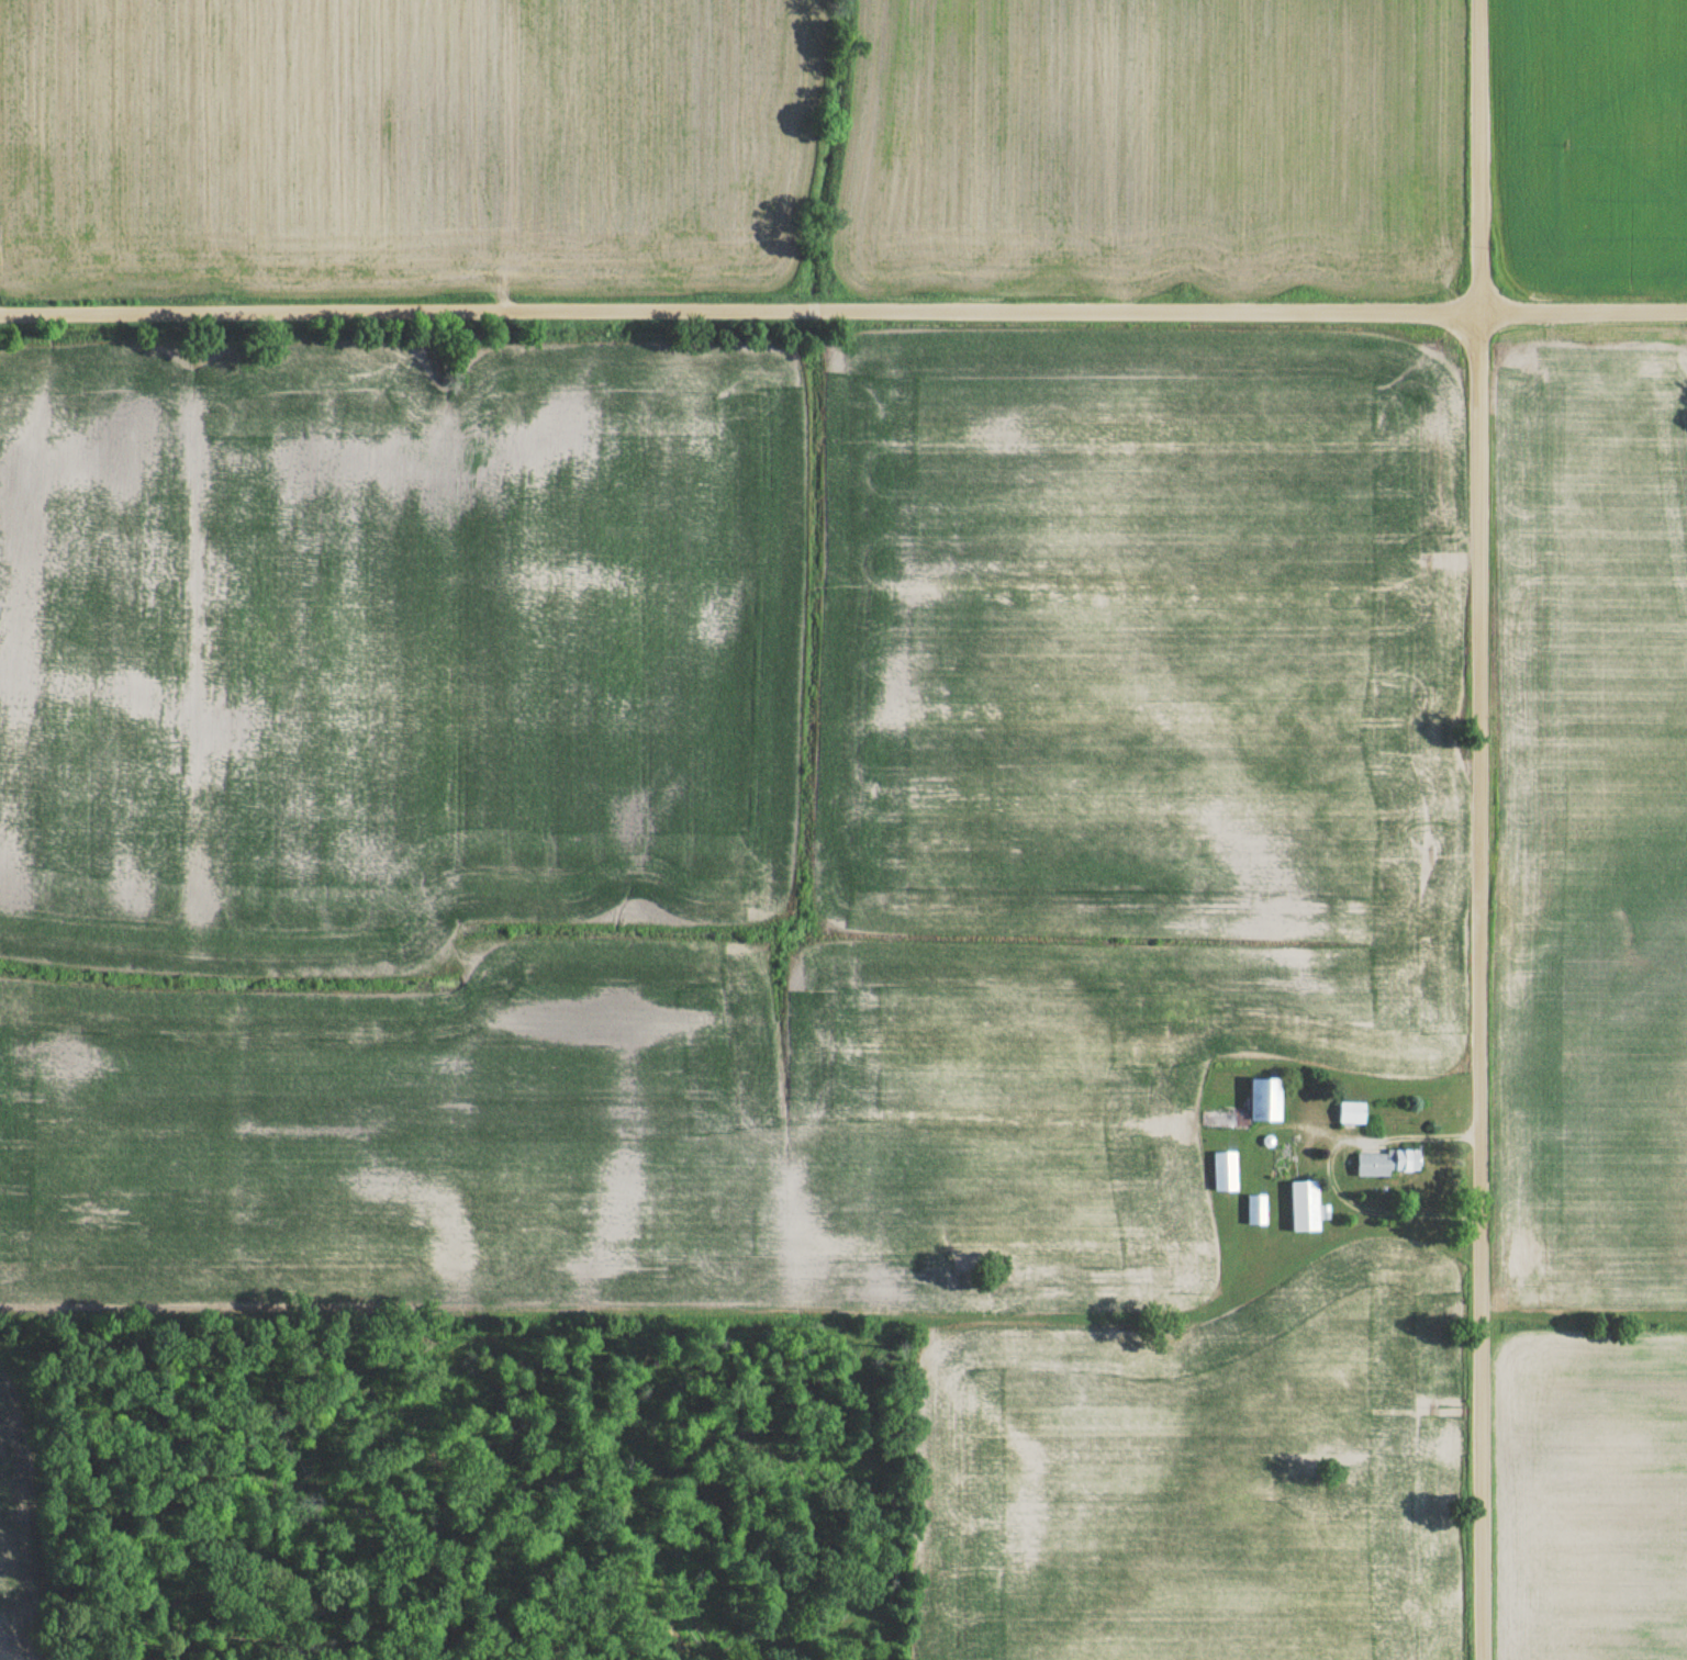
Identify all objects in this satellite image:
crop: (405, 145)
crop: (1153, 149)
road: (842, 306)
road: (1478, 829)
building: (1248, 1102)
building: (1349, 1108)
building: (1265, 1136)
building: (1385, 1156)
building: (1280, 1158)
building: (1222, 1167)
road: (1328, 1168)
building: (1301, 1201)
building: (1254, 1205)
building: (1321, 1208)

